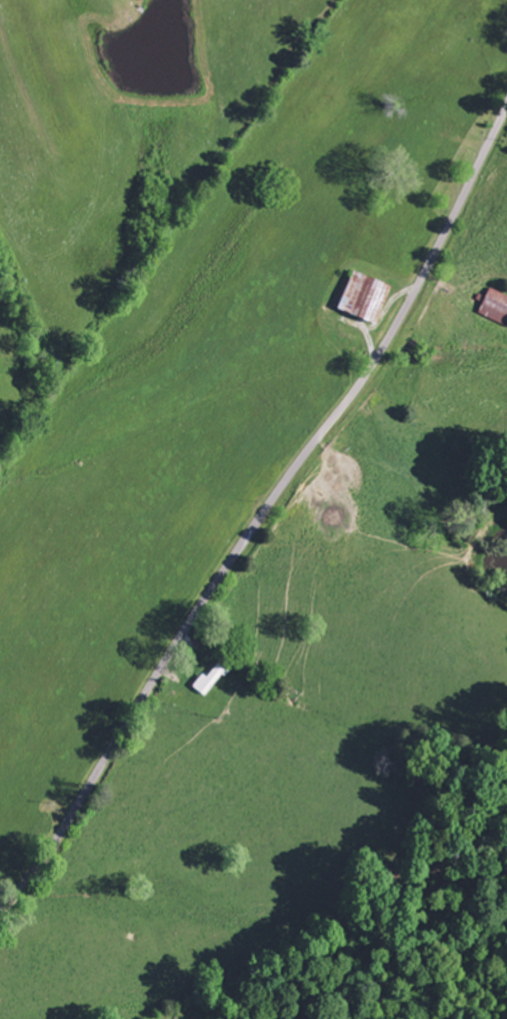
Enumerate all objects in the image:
building: (362, 296)
building: (496, 307)
road: (263, 514)
building: (209, 682)

